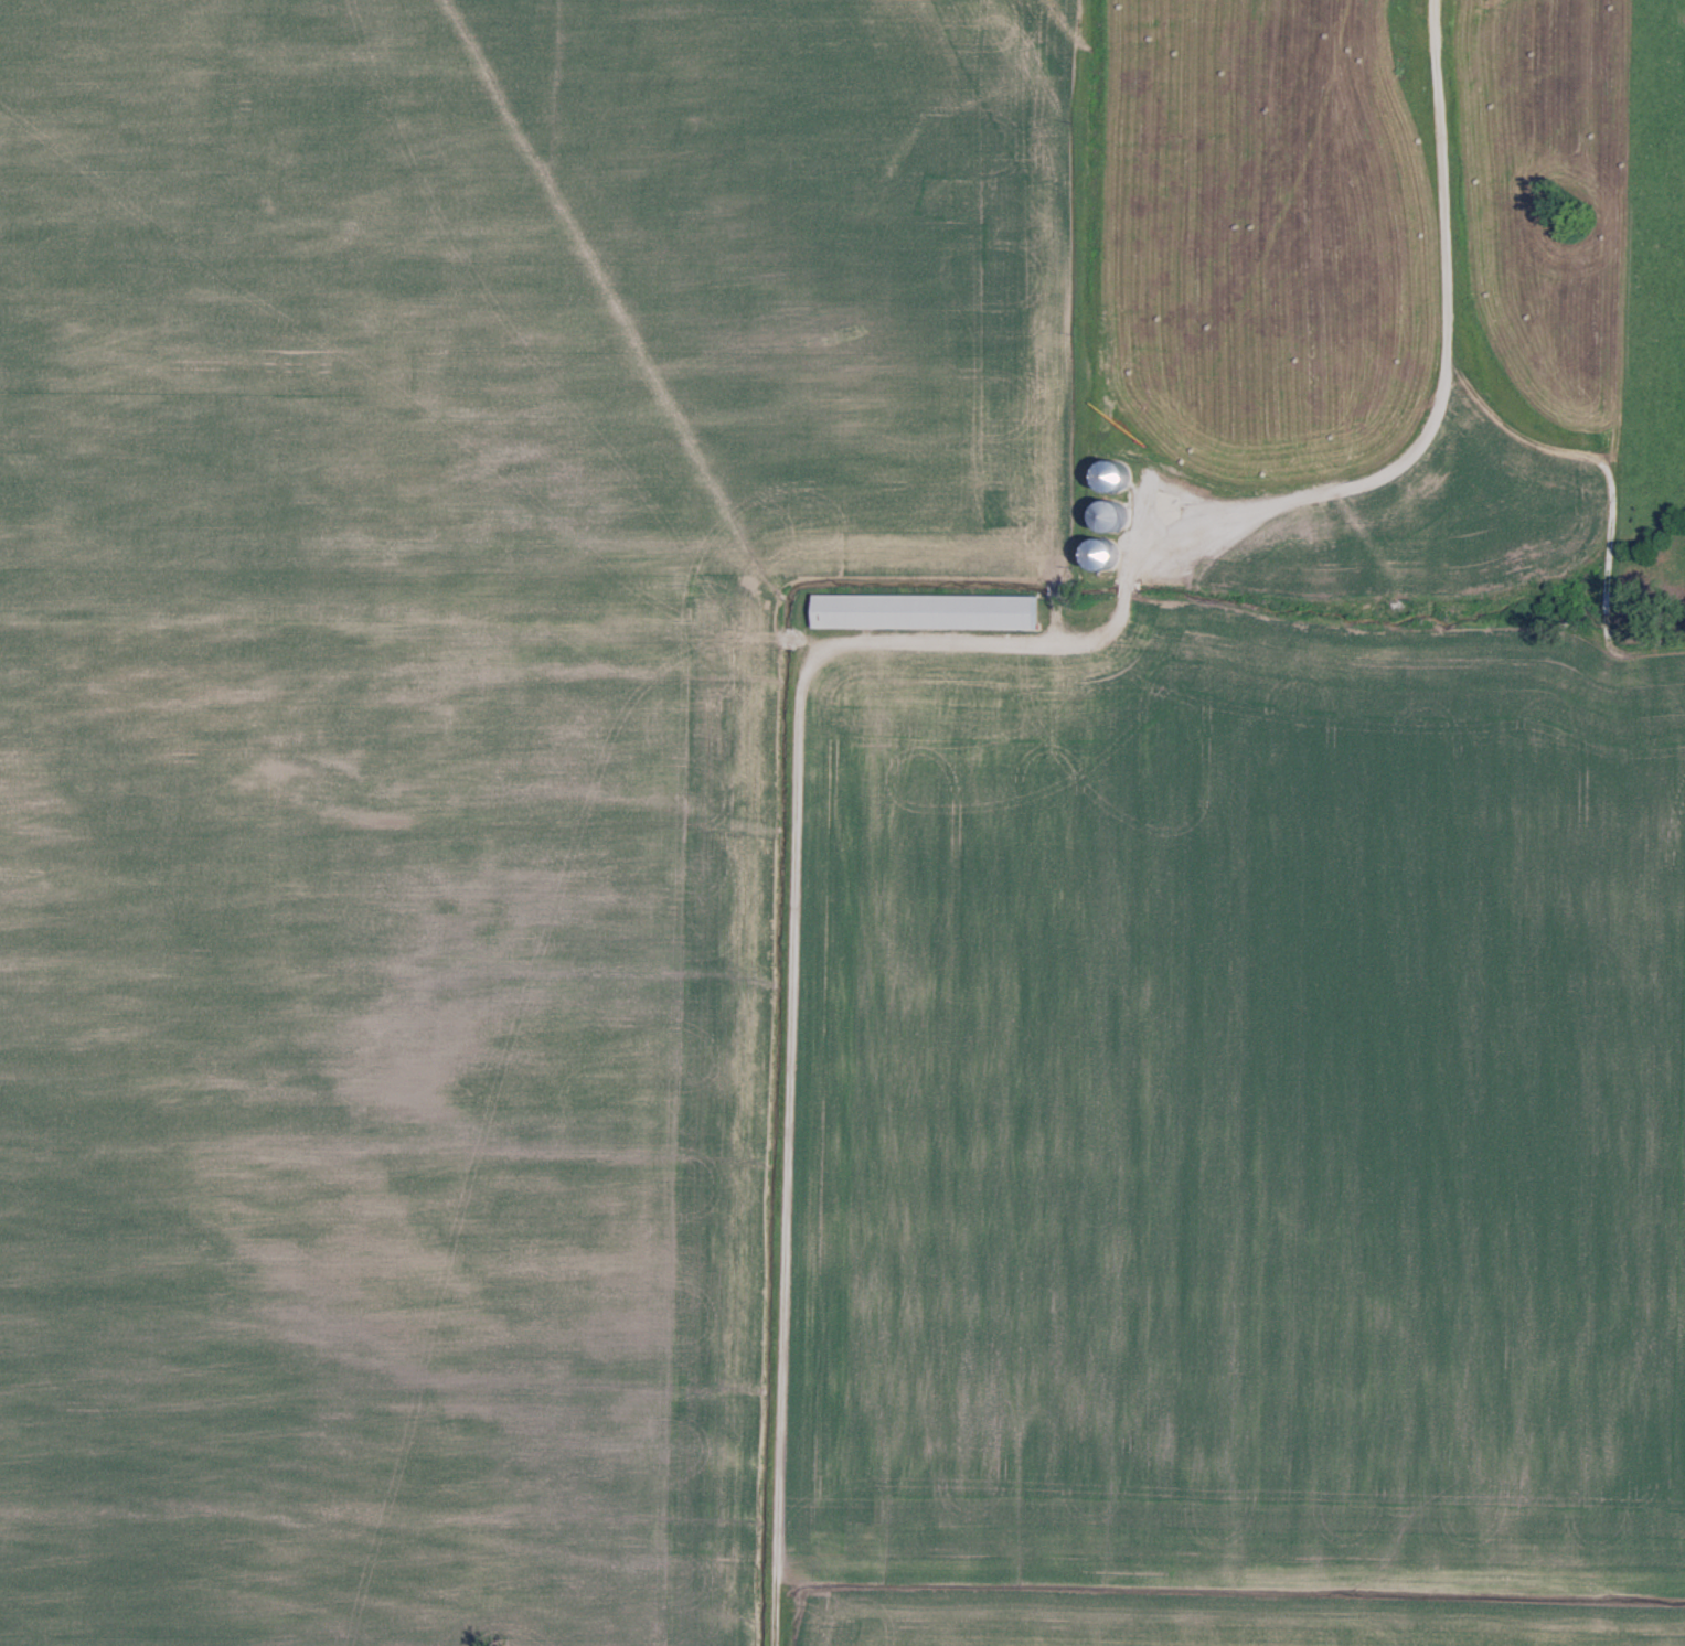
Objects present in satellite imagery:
road: (1323, 490)
building: (1107, 515)
building: (1101, 562)
building: (921, 612)

